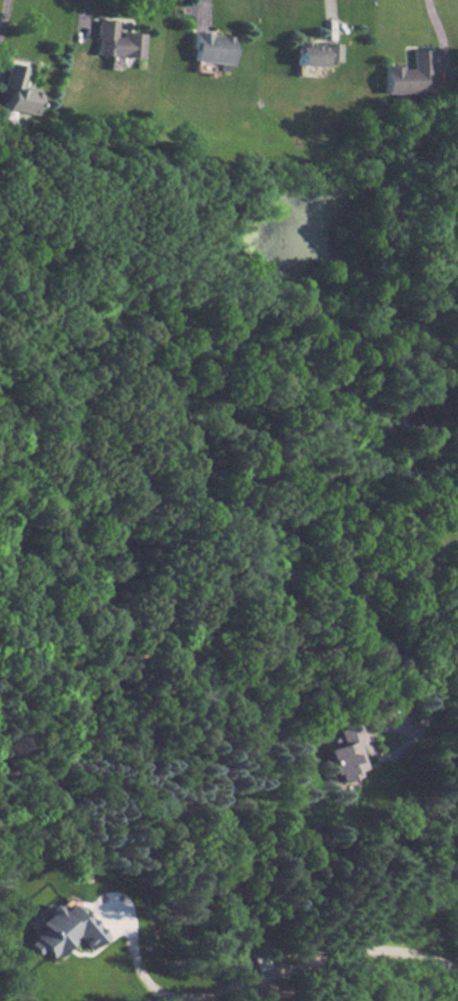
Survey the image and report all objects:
road: (2, 15)
road: (81, 17)
building: (114, 41)
building: (208, 49)
building: (314, 53)
building: (406, 74)
building: (17, 91)
road: (229, 652)
road: (435, 692)
building: (346, 754)
building: (64, 930)
road: (273, 971)

